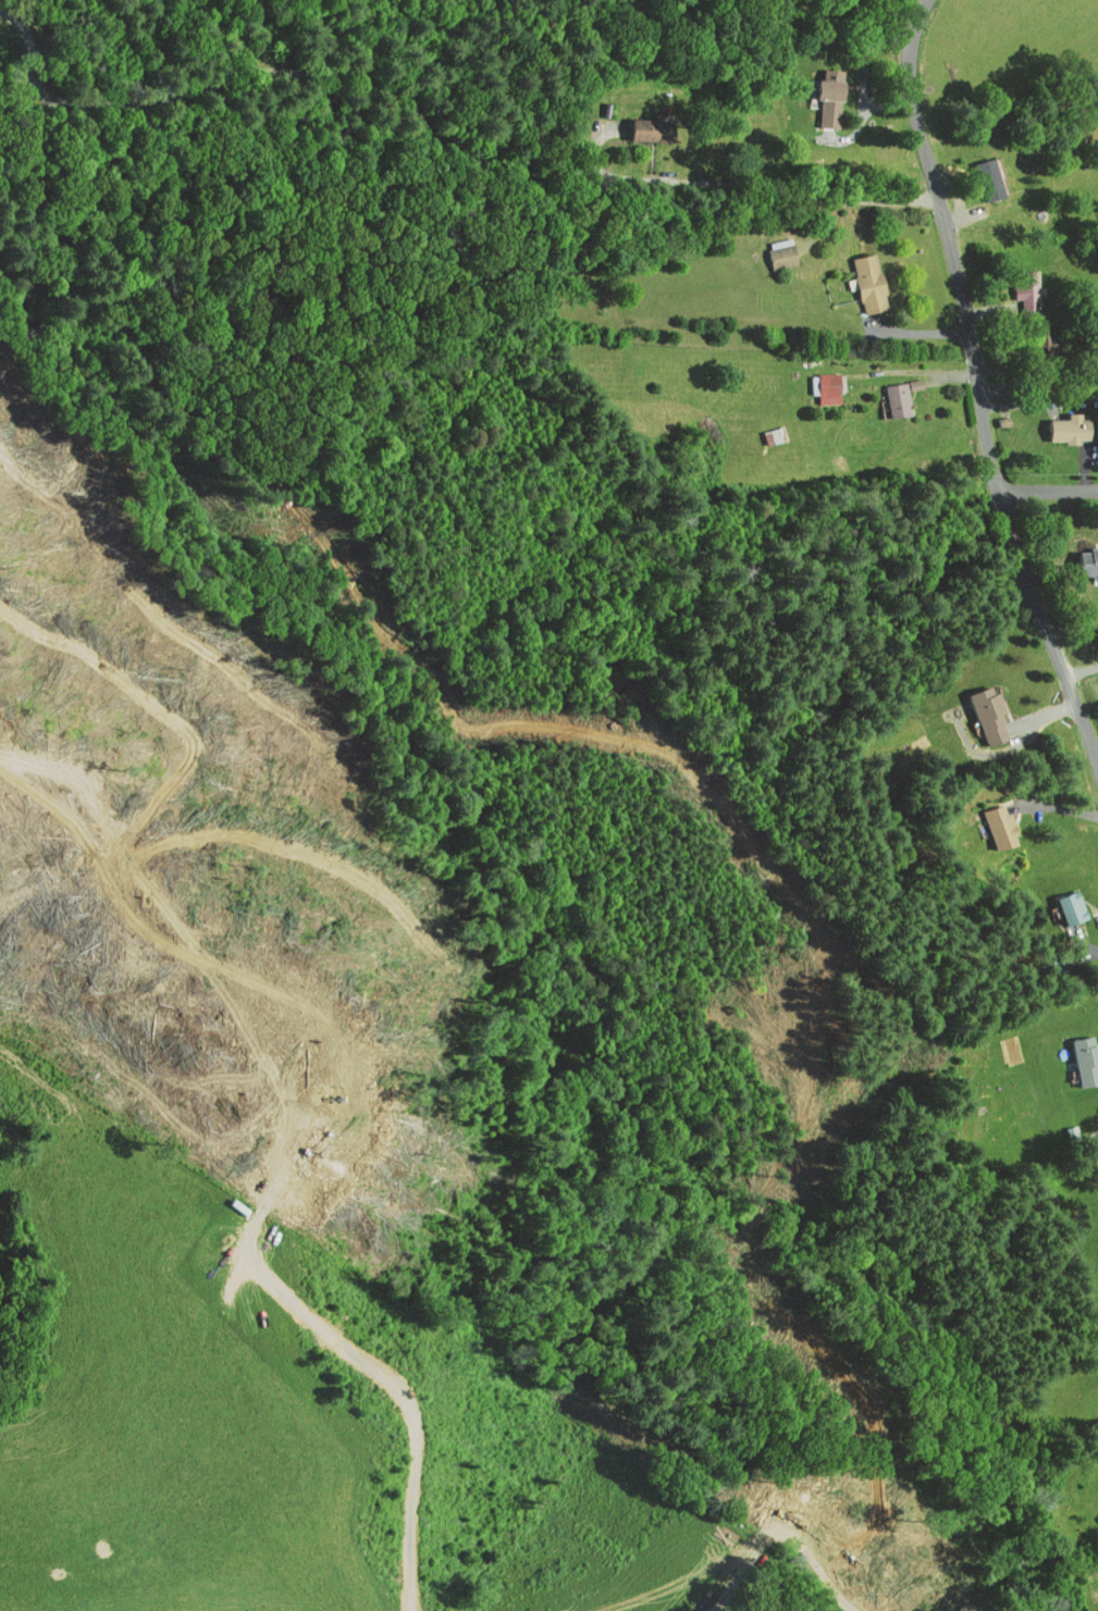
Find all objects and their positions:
road: (432, 133)
road: (979, 387)
road: (1047, 493)

